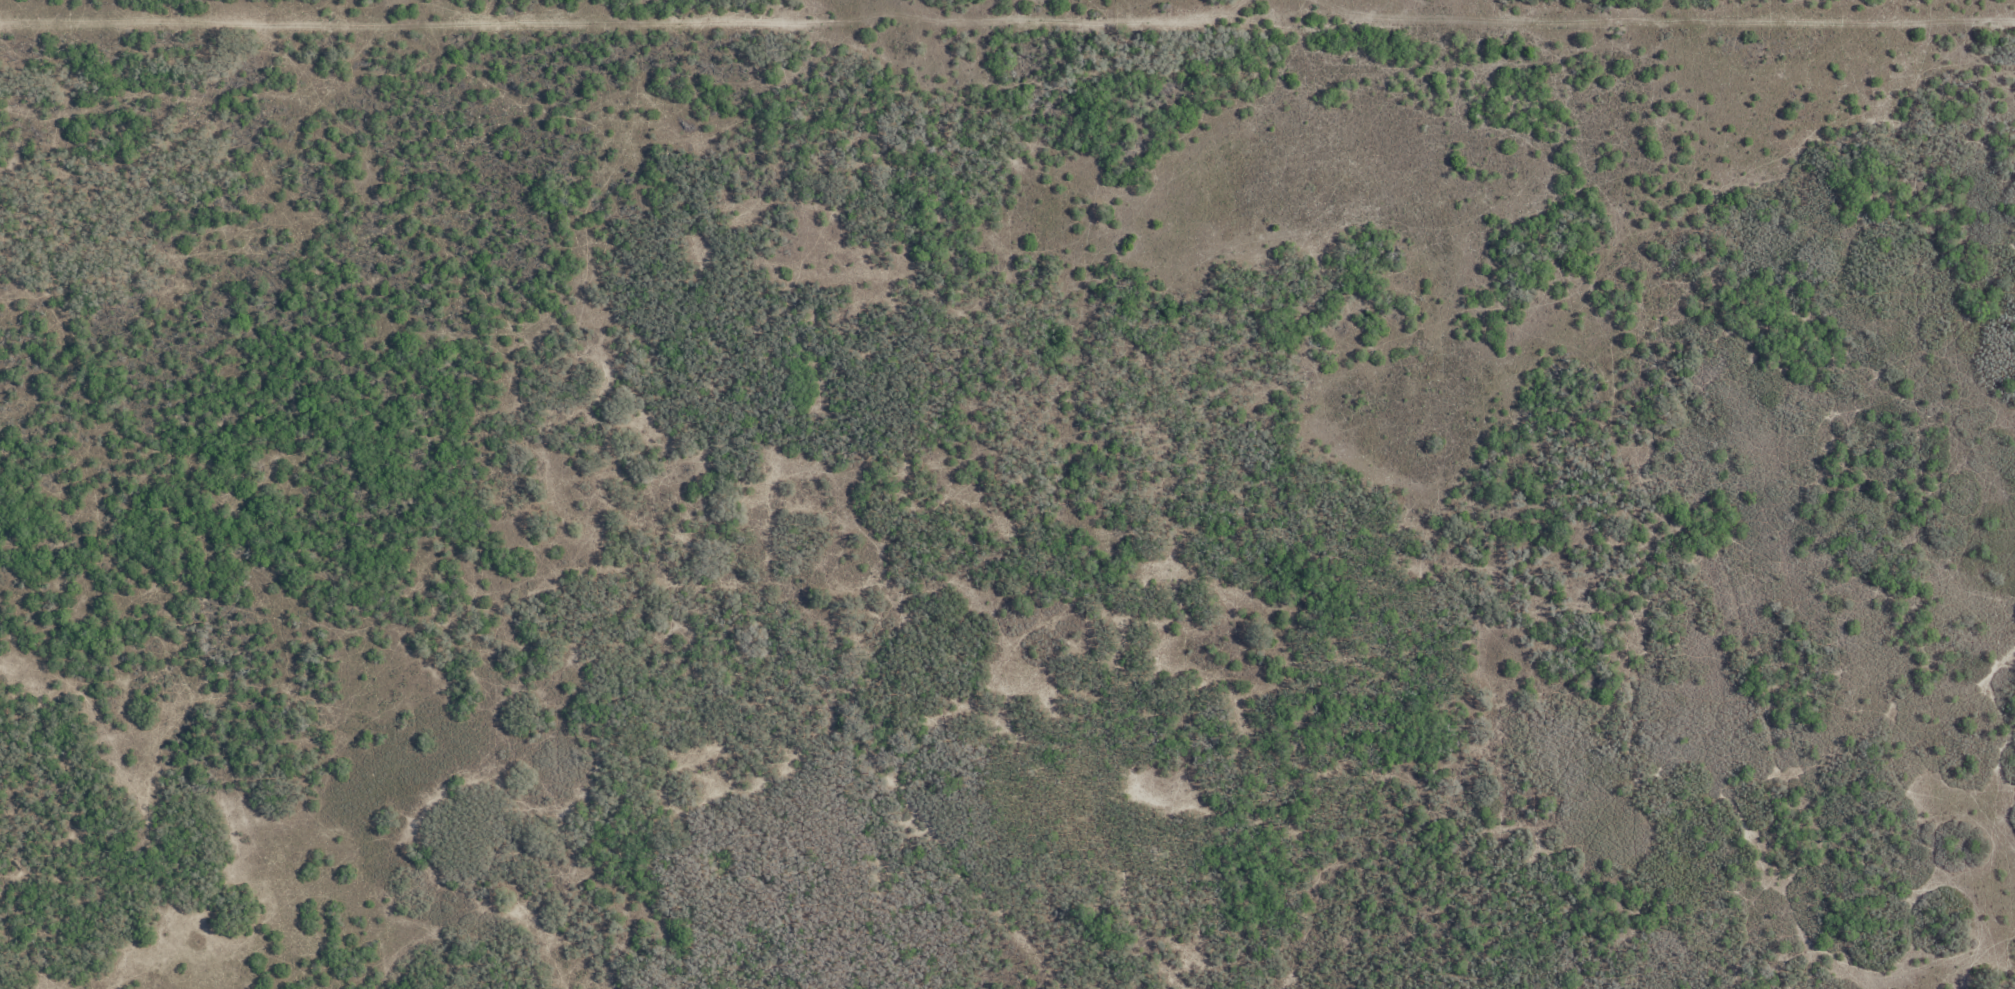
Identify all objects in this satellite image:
road: (1666, 334)

